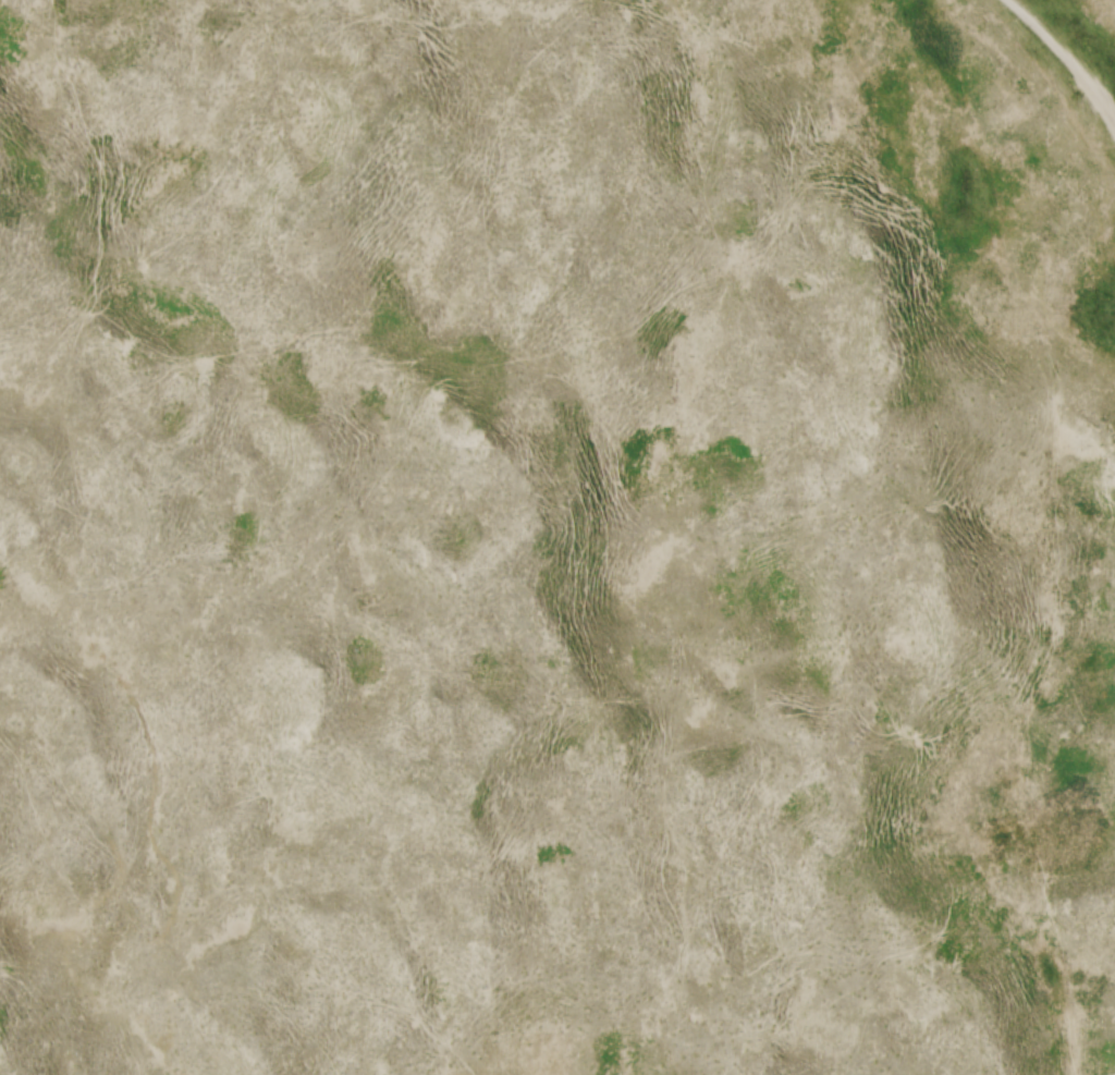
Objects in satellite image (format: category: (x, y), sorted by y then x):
road: (1057, 69)

